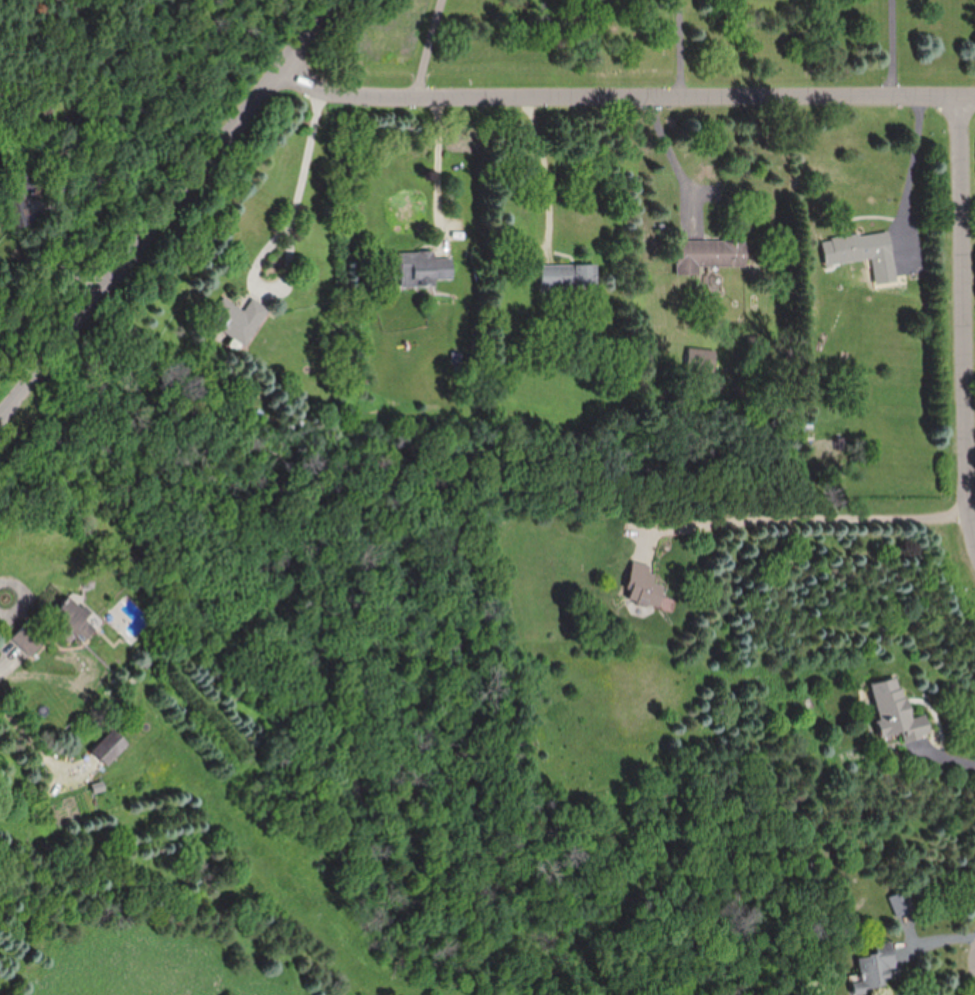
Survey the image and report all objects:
road: (896, 49)
road: (429, 50)
road: (683, 50)
road: (625, 100)
road: (305, 161)
road: (913, 166)
road: (436, 178)
road: (544, 178)
road: (801, 182)
road: (164, 204)
building: (12, 213)
building: (863, 253)
building: (709, 254)
road: (285, 266)
building: (425, 268)
building: (569, 276)
road: (967, 315)
building: (239, 319)
road: (802, 518)
road: (32, 538)
building: (642, 587)
building: (75, 620)
building: (28, 640)
road: (5, 641)
building: (898, 711)
building: (109, 746)
road: (44, 751)
road: (933, 759)
building: (898, 905)
building: (876, 966)

